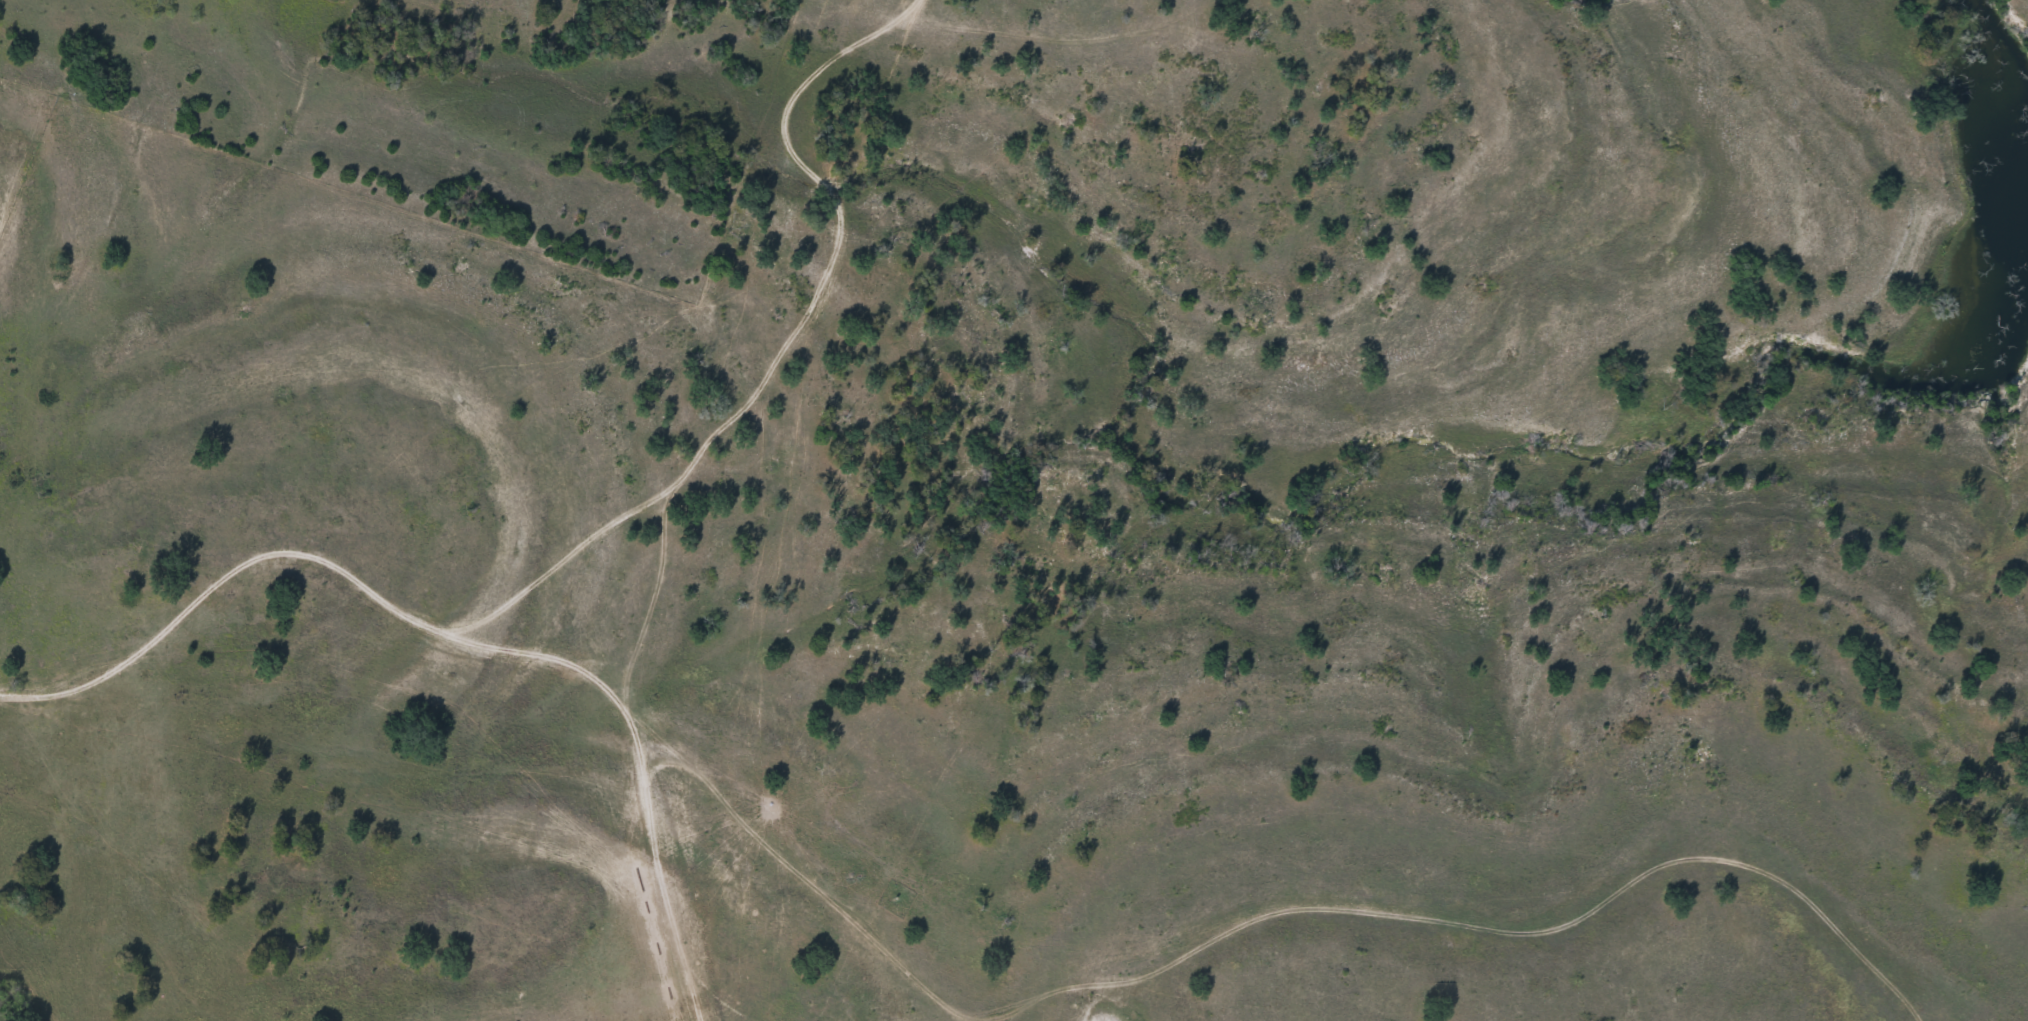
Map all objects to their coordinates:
road: (373, 580)

